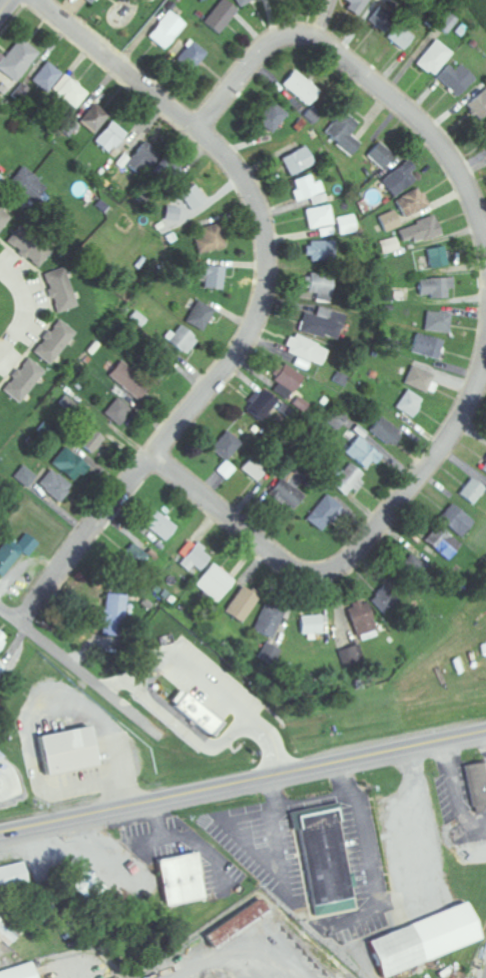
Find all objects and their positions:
building: (242, 2)
road: (5, 7)
building: (220, 16)
building: (380, 18)
building: (166, 30)
building: (399, 37)
building: (191, 57)
building: (434, 58)
building: (18, 60)
building: (47, 77)
road: (365, 77)
building: (455, 79)
building: (301, 88)
building: (69, 93)
building: (478, 105)
building: (272, 117)
building: (95, 118)
building: (485, 123)
building: (70, 128)
building: (343, 133)
building: (110, 137)
building: (380, 155)
building: (144, 158)
building: (297, 161)
building: (170, 170)
building: (399, 179)
building: (26, 185)
building: (309, 190)
building: (193, 197)
building: (412, 203)
building: (172, 213)
building: (319, 217)
building: (3, 220)
building: (388, 221)
building: (345, 225)
building: (420, 231)
building: (210, 239)
building: (390, 246)
building: (27, 248)
building: (321, 251)
building: (438, 257)
building: (209, 275)
building: (318, 287)
building: (436, 288)
building: (60, 290)
road: (260, 305)
building: (200, 316)
building: (439, 323)
building: (321, 324)
building: (182, 340)
building: (54, 343)
building: (427, 346)
building: (305, 352)
building: (288, 379)
building: (419, 379)
building: (23, 380)
building: (129, 380)
building: (409, 404)
building: (262, 405)
building: (118, 412)
building: (335, 418)
building: (384, 431)
building: (91, 441)
building: (226, 446)
building: (362, 453)
building: (70, 465)
building: (254, 468)
building: (484, 468)
building: (25, 476)
building: (347, 479)
building: (55, 486)
building: (288, 491)
building: (472, 491)
building: (325, 514)
building: (456, 521)
building: (159, 524)
building: (442, 543)
road: (361, 547)
building: (15, 553)
building: (135, 557)
building: (195, 557)
building: (413, 569)
building: (217, 583)
building: (384, 600)
building: (243, 605)
building: (113, 616)
building: (361, 618)
building: (269, 621)
building: (311, 625)
building: (2, 640)
building: (269, 654)
building: (351, 656)
building: (2, 670)
road: (80, 670)
building: (195, 713)
building: (68, 751)
building: (1, 757)
road: (243, 781)
building: (476, 784)
building: (324, 860)
building: (181, 877)
building: (13, 878)
building: (88, 887)
building: (238, 925)
building: (8, 929)
building: (424, 939)
building: (19, 972)

